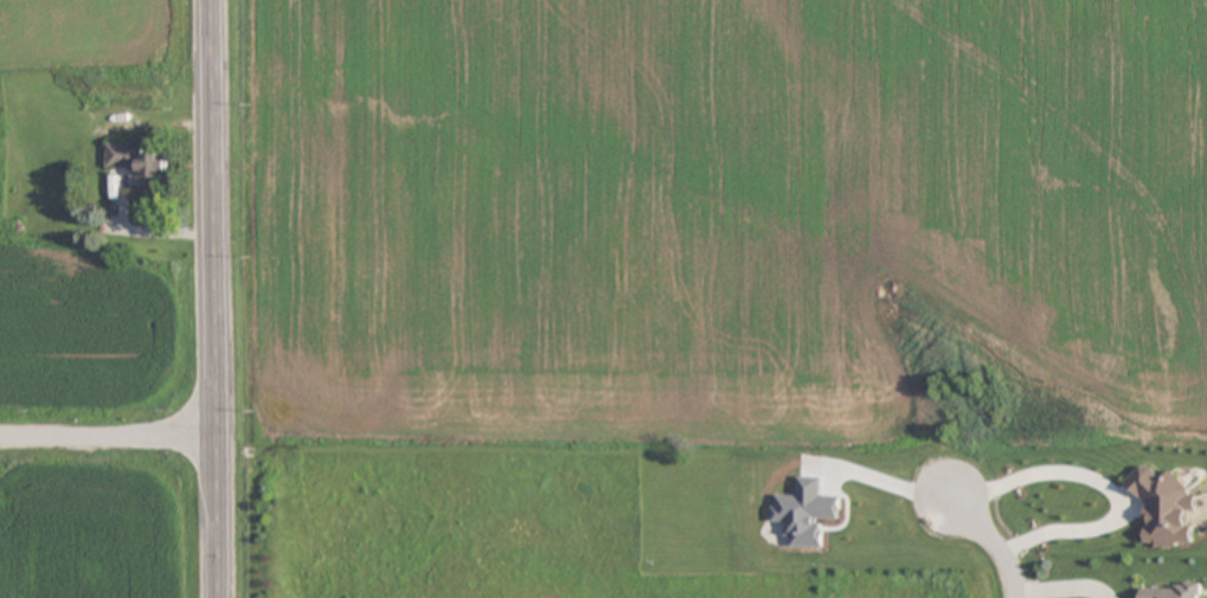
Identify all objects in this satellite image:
crop: (113, 34)
building: (54, 123)
building: (139, 161)
building: (97, 189)
crop: (717, 219)
road: (216, 298)
crop: (114, 419)
road: (107, 429)
road: (993, 540)
building: (1171, 591)

